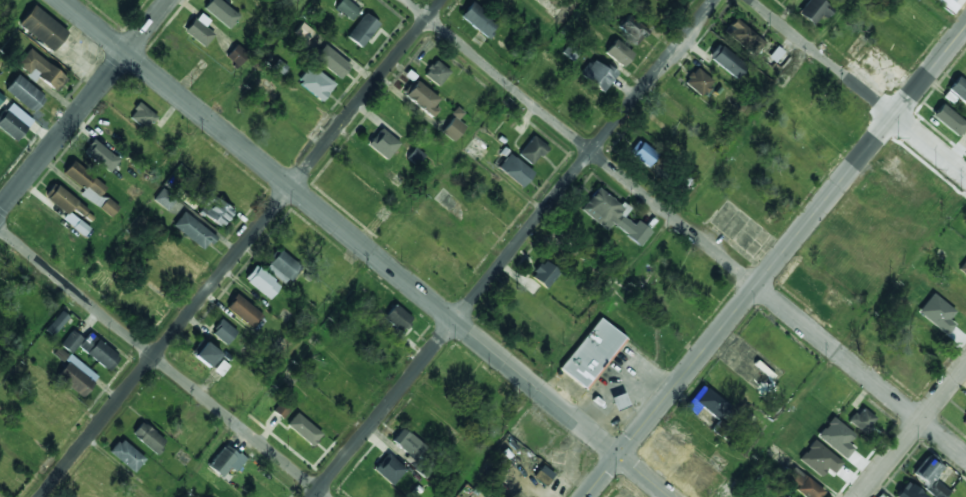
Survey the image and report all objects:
building: (950, 4)
building: (347, 8)
building: (812, 11)
building: (220, 12)
road: (945, 16)
building: (478, 19)
building: (633, 28)
building: (45, 30)
building: (199, 30)
building: (362, 30)
building: (743, 35)
building: (618, 52)
building: (236, 55)
road: (254, 59)
building: (727, 60)
building: (331, 61)
building: (41, 70)
building: (436, 72)
building: (596, 74)
building: (698, 81)
building: (315, 82)
road: (858, 87)
building: (958, 88)
building: (25, 93)
building: (422, 98)
road: (84, 104)
building: (142, 115)
building: (949, 119)
building: (13, 121)
building: (454, 124)
building: (383, 143)
building: (531, 150)
building: (642, 153)
building: (417, 154)
building: (100, 155)
building: (514, 169)
building: (92, 191)
building: (164, 199)
building: (68, 208)
building: (214, 210)
building: (613, 215)
road: (686, 229)
building: (193, 231)
road: (240, 248)
road: (366, 248)
road: (375, 248)
road: (514, 248)
road: (648, 248)
road: (775, 262)
building: (281, 266)
building: (963, 269)
building: (544, 273)
building: (261, 281)
building: (243, 311)
building: (397, 318)
building: (56, 323)
road: (35, 332)
building: (223, 332)
building: (71, 341)
building: (98, 351)
building: (204, 353)
building: (591, 353)
road: (162, 363)
building: (76, 376)
building: (618, 402)
building: (707, 402)
building: (282, 408)
building: (861, 419)
building: (963, 420)
building: (303, 429)
road: (912, 430)
building: (147, 437)
building: (408, 446)
building: (656, 450)
building: (126, 455)
building: (225, 460)
building: (388, 469)
building: (925, 471)
building: (542, 475)
building: (802, 484)
building: (938, 489)
building: (908, 491)
building: (879, 496)

